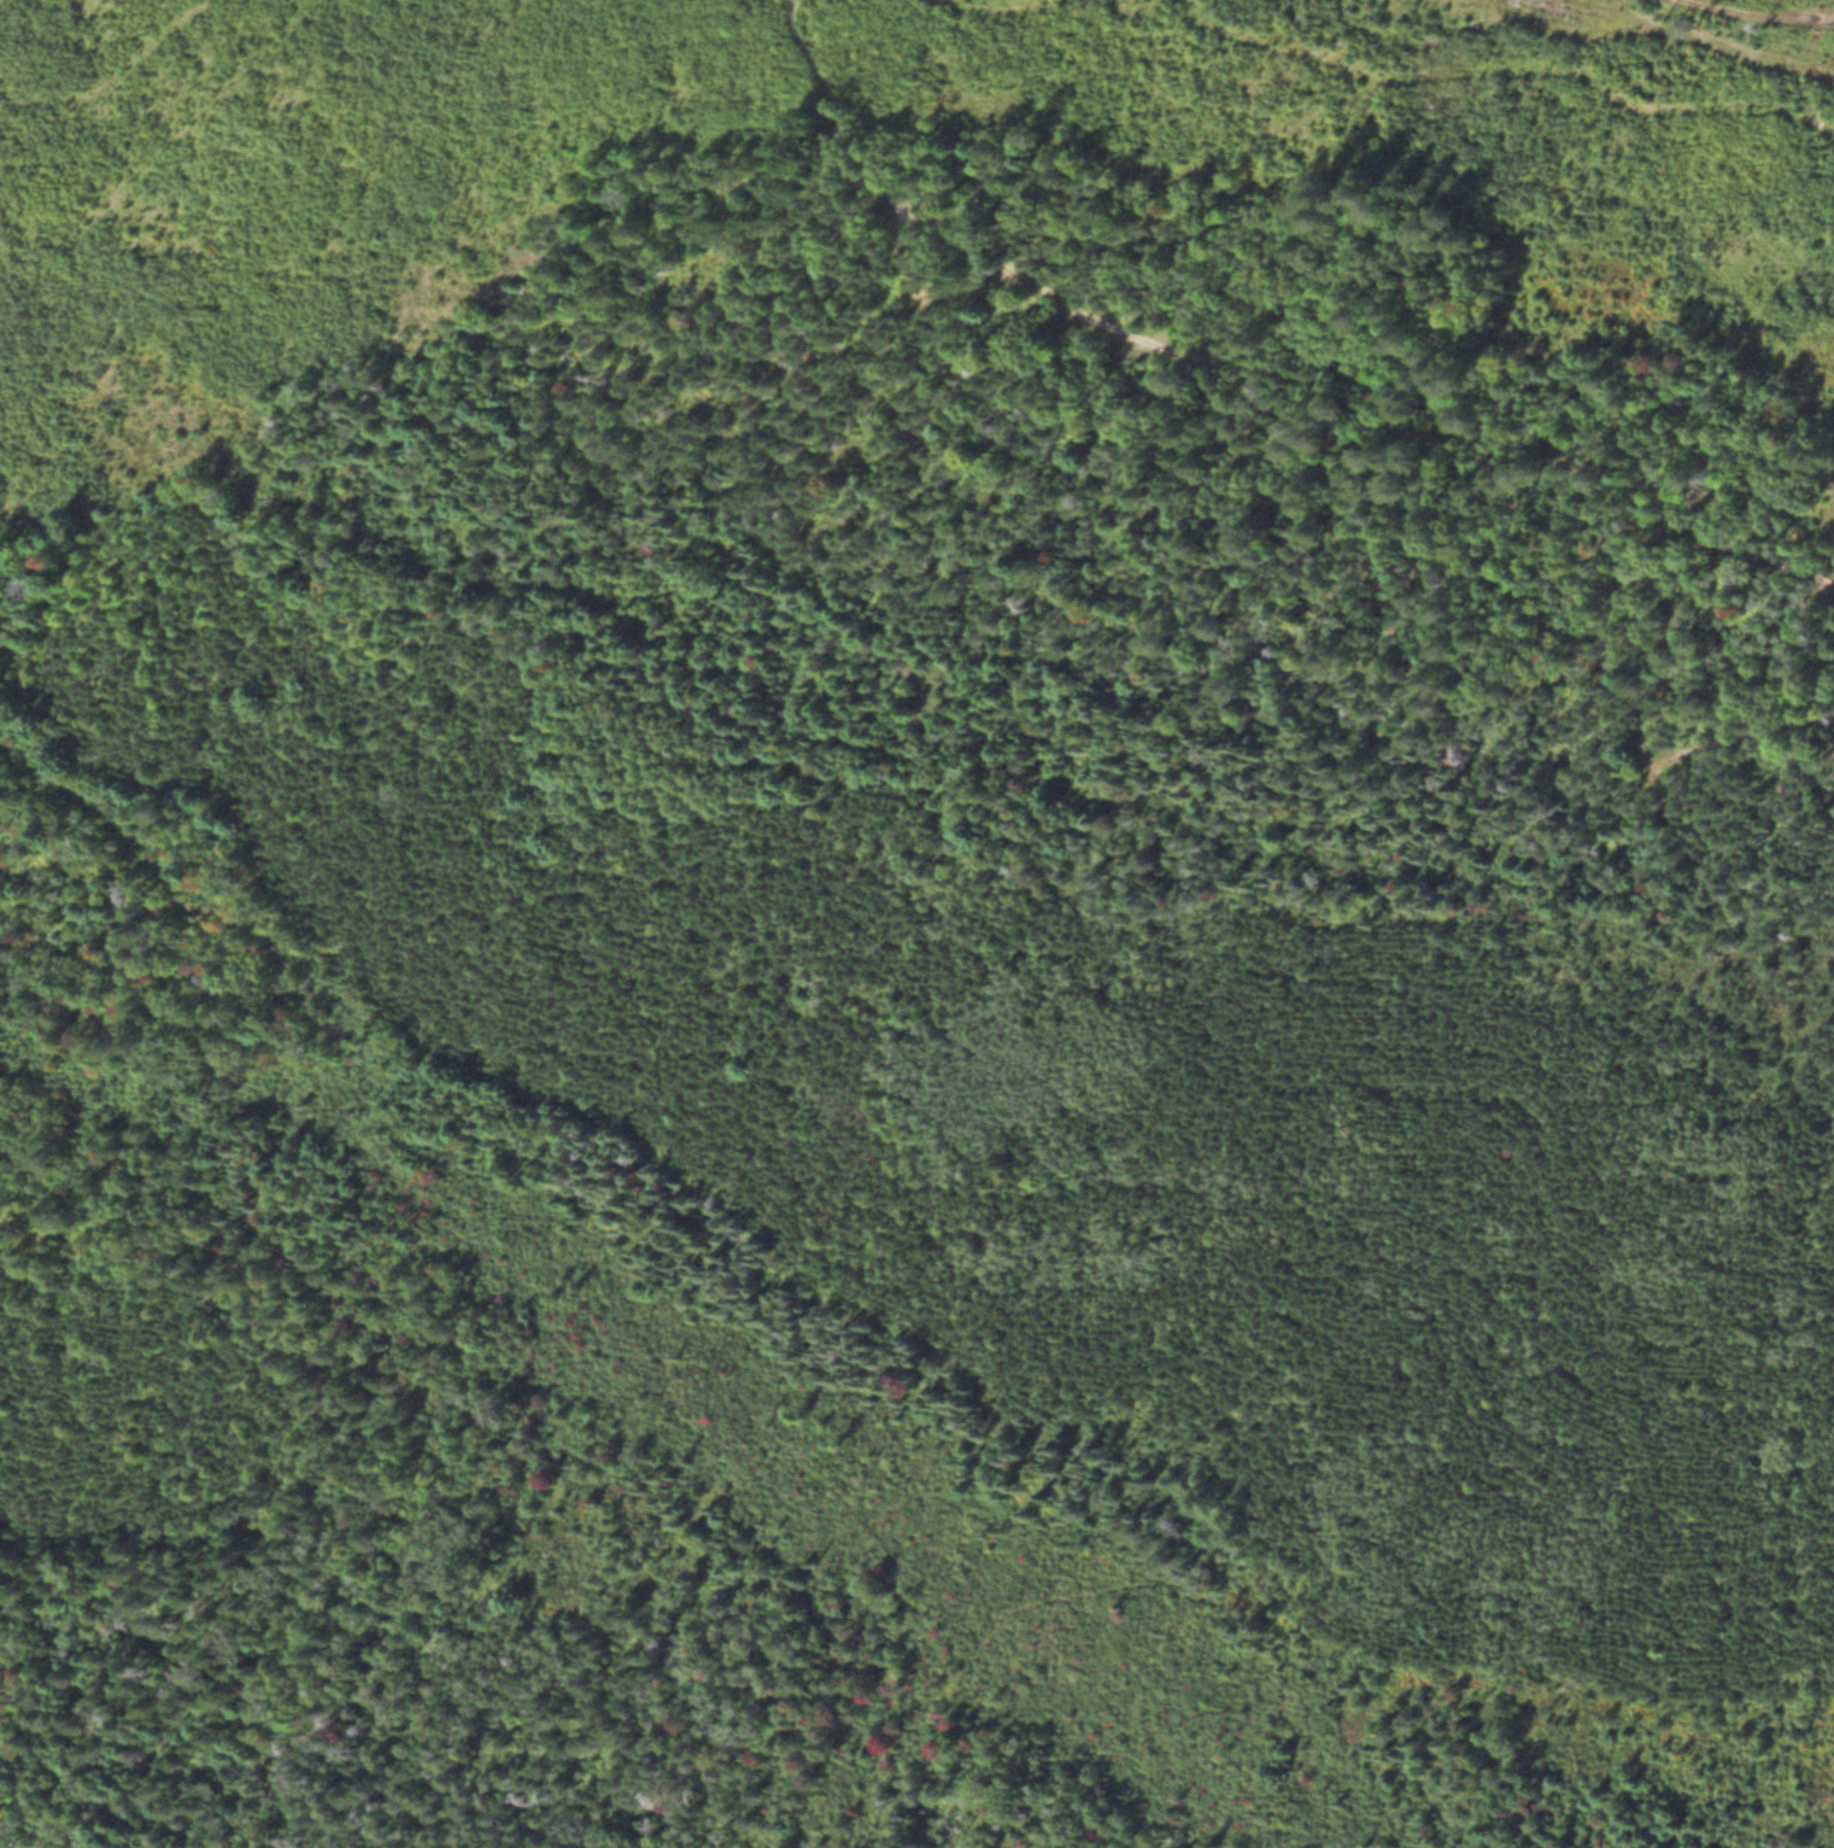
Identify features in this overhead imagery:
road: (1799, 5)
road: (1277, 372)

